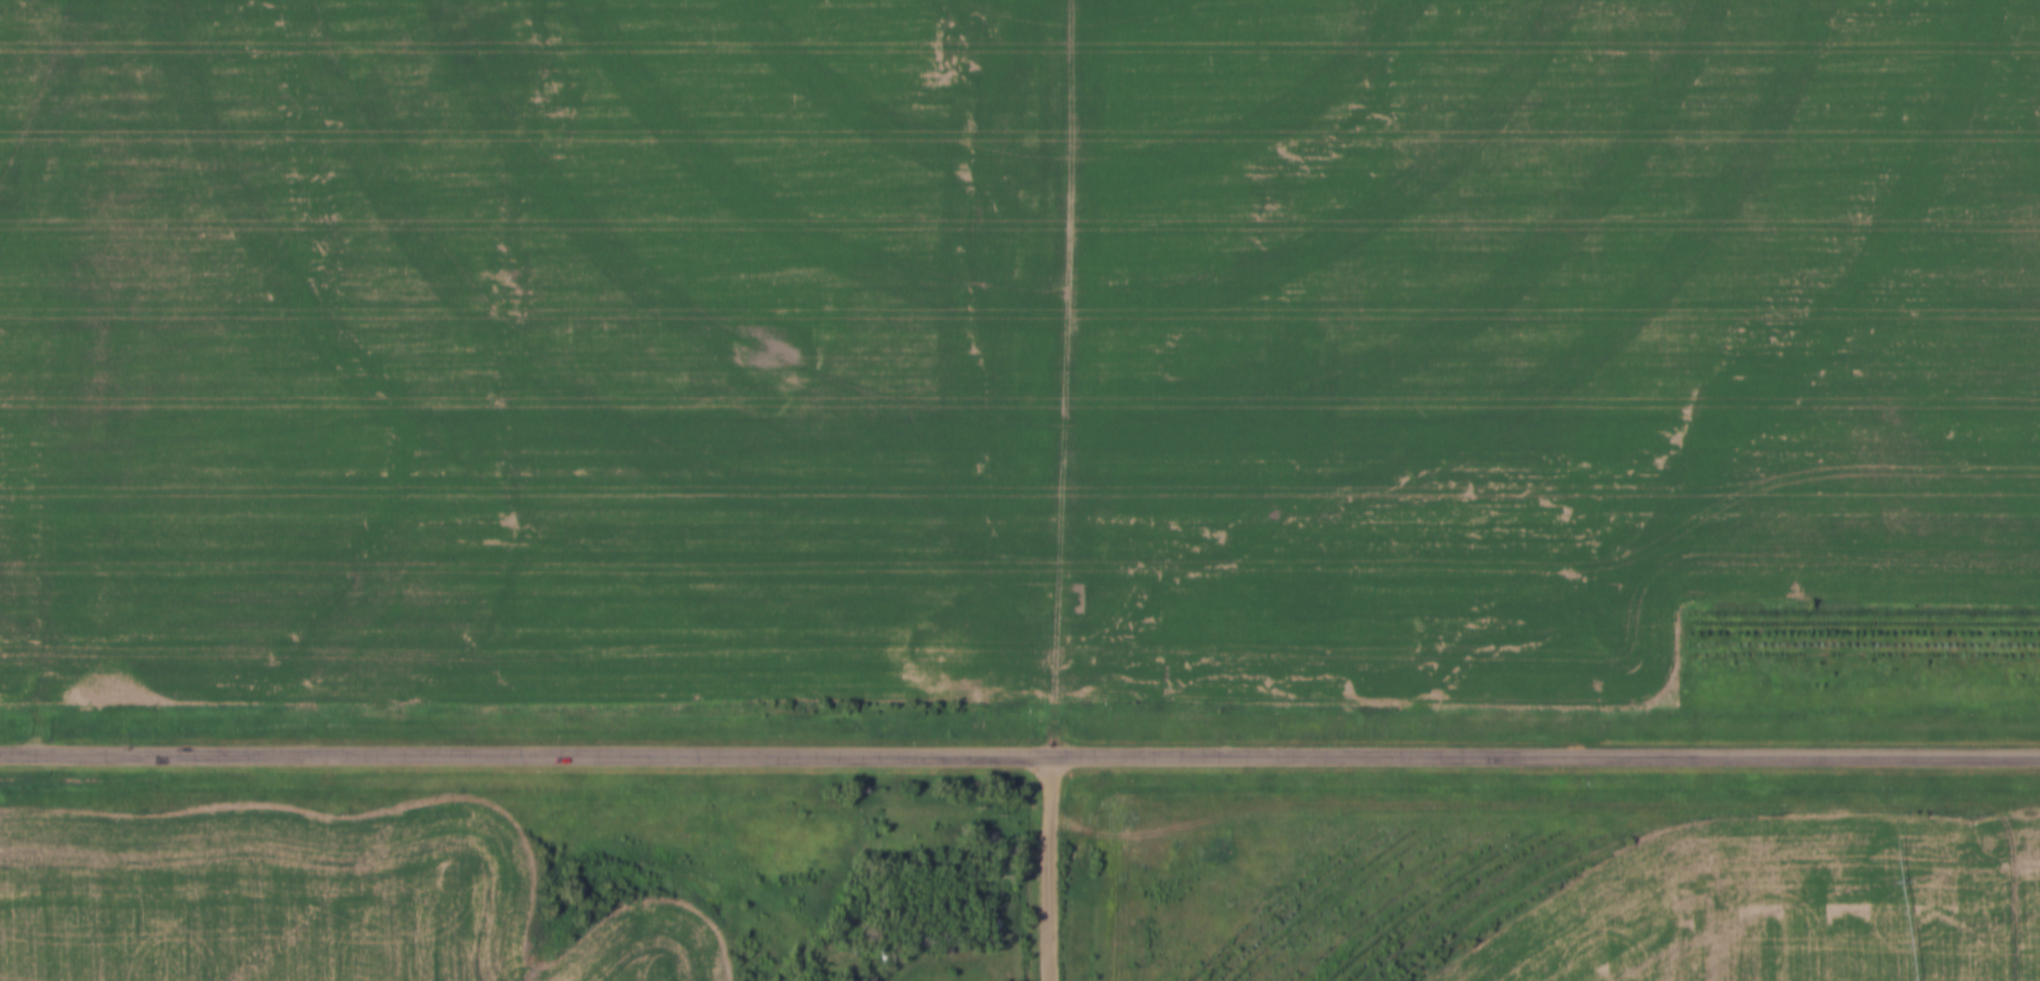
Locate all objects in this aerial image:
crop: (999, 345)
road: (1020, 756)
road: (1051, 869)
crop: (1788, 907)

